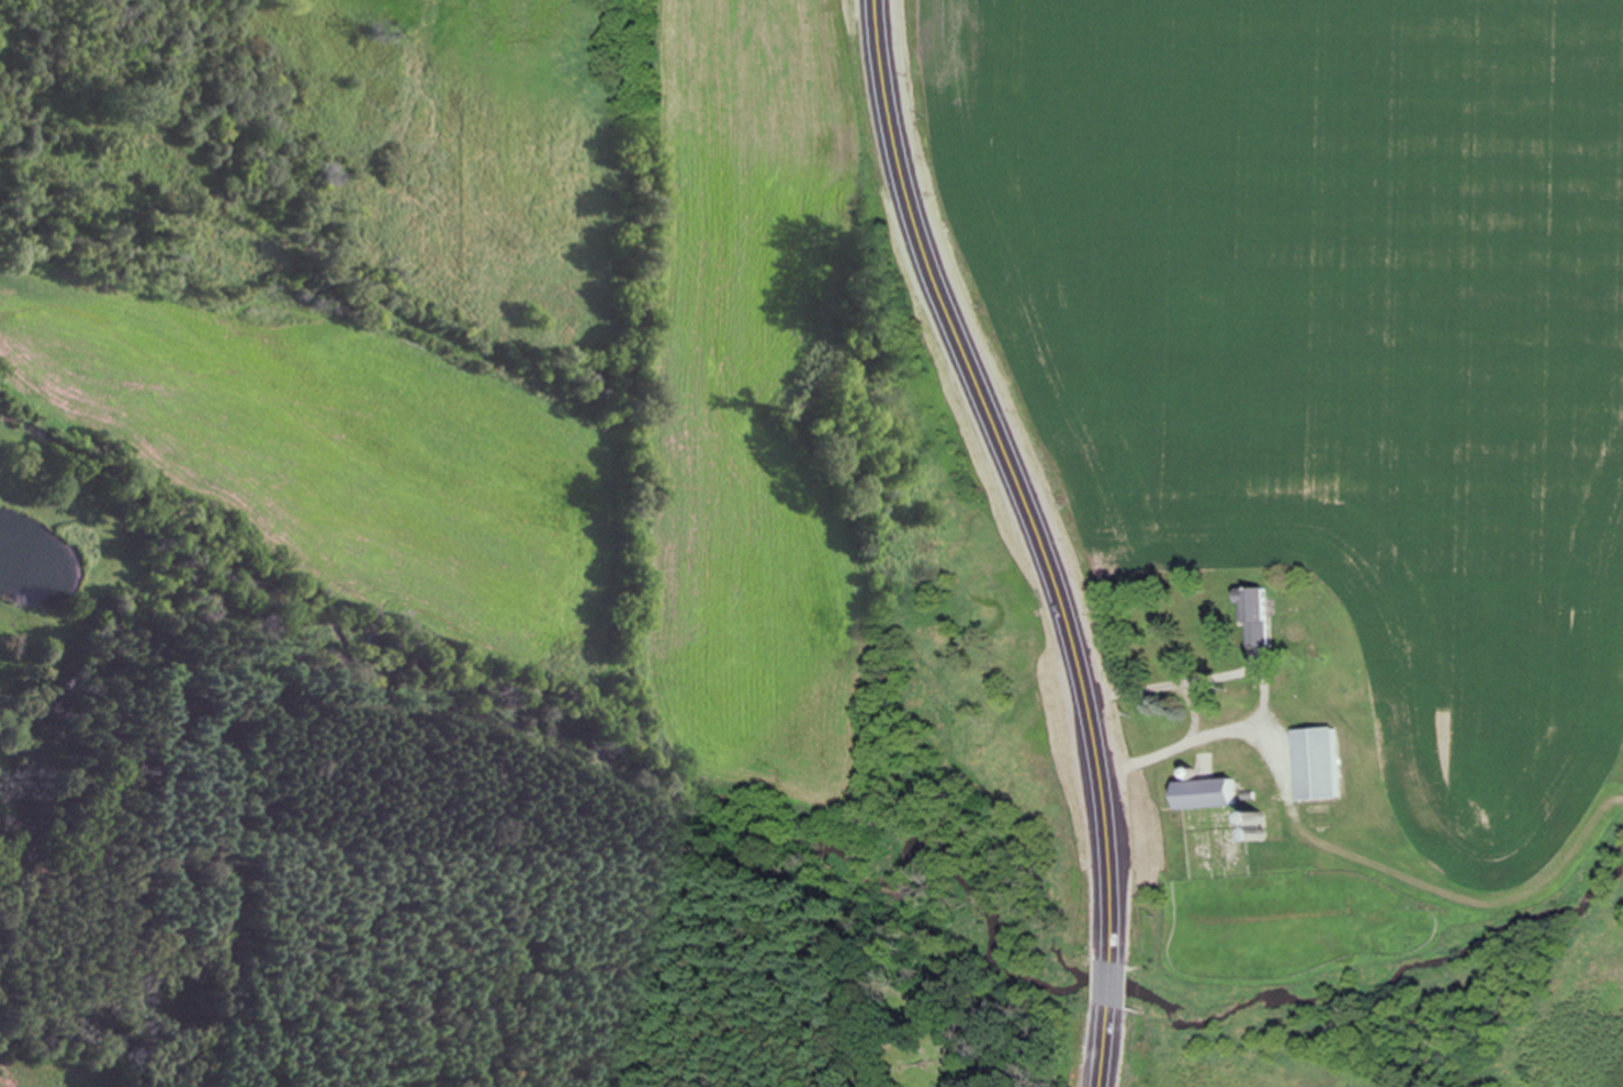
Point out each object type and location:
road: (1041, 534)
building: (1254, 614)
road: (1264, 678)
road: (1195, 695)
building: (1318, 763)
building: (1206, 794)

